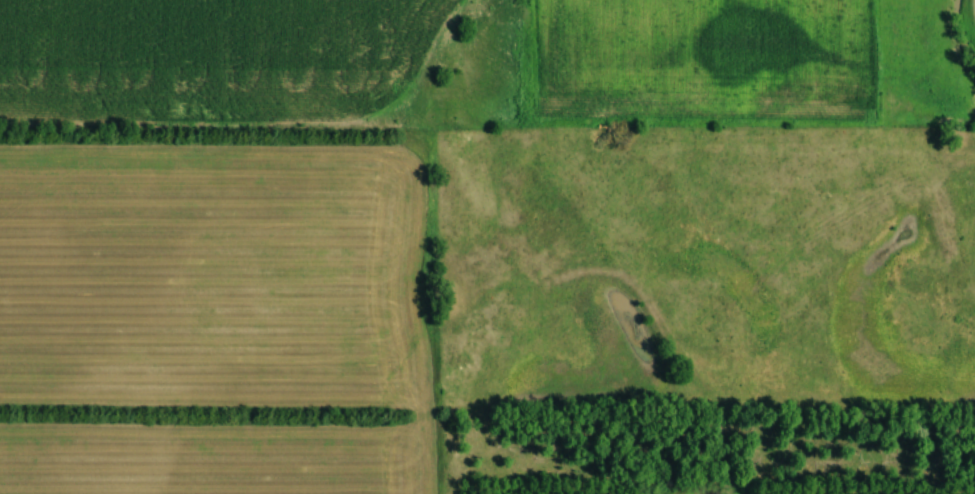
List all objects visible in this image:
crop: (210, 54)
crop: (694, 63)

